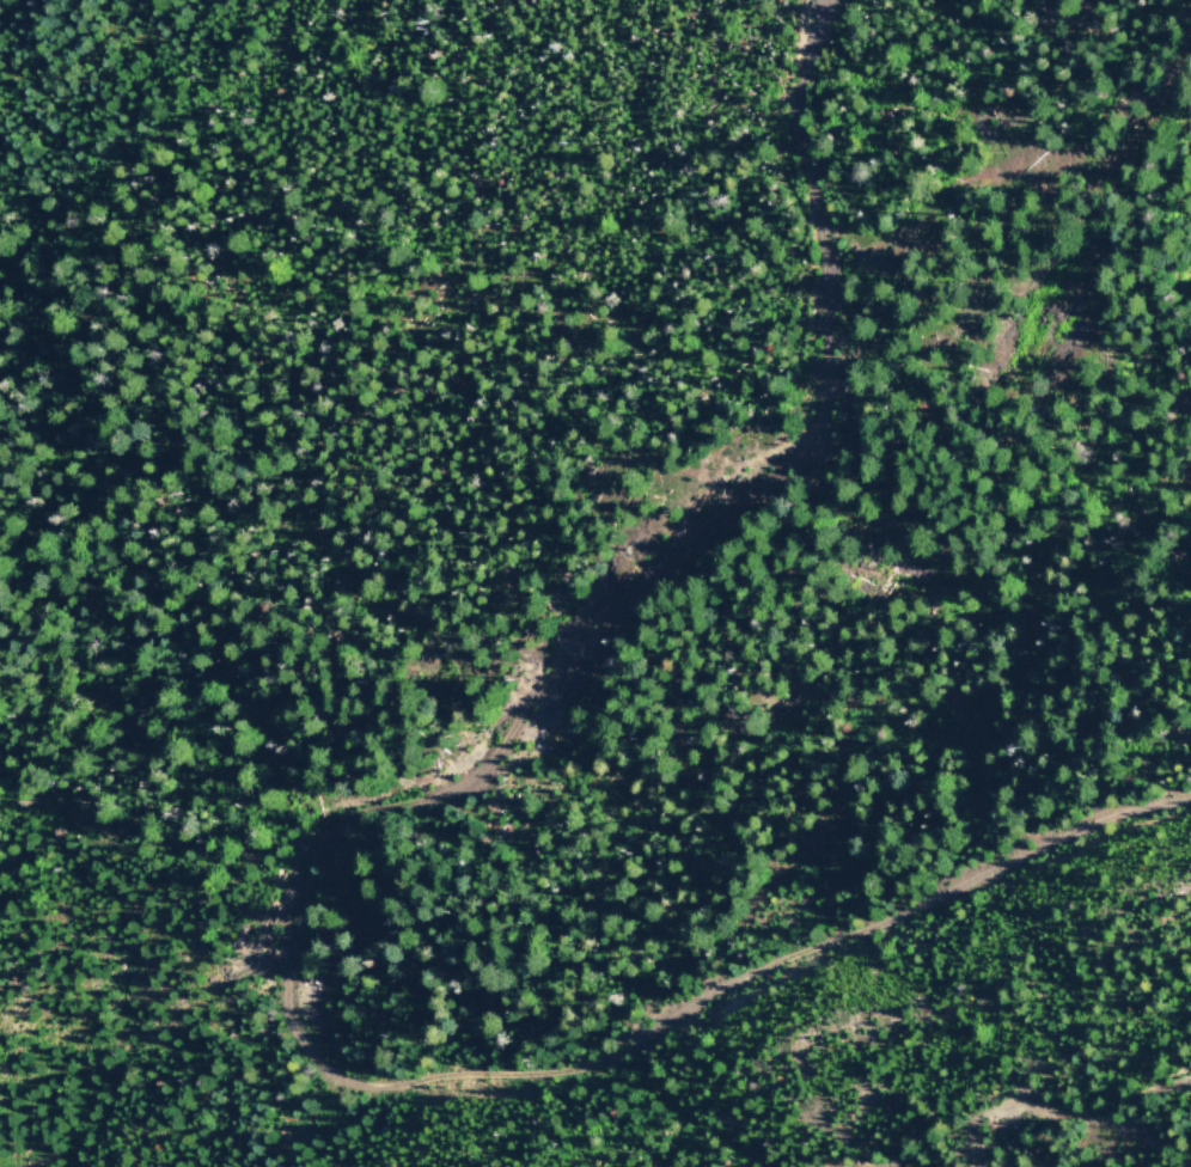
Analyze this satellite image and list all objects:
road: (320, 886)

